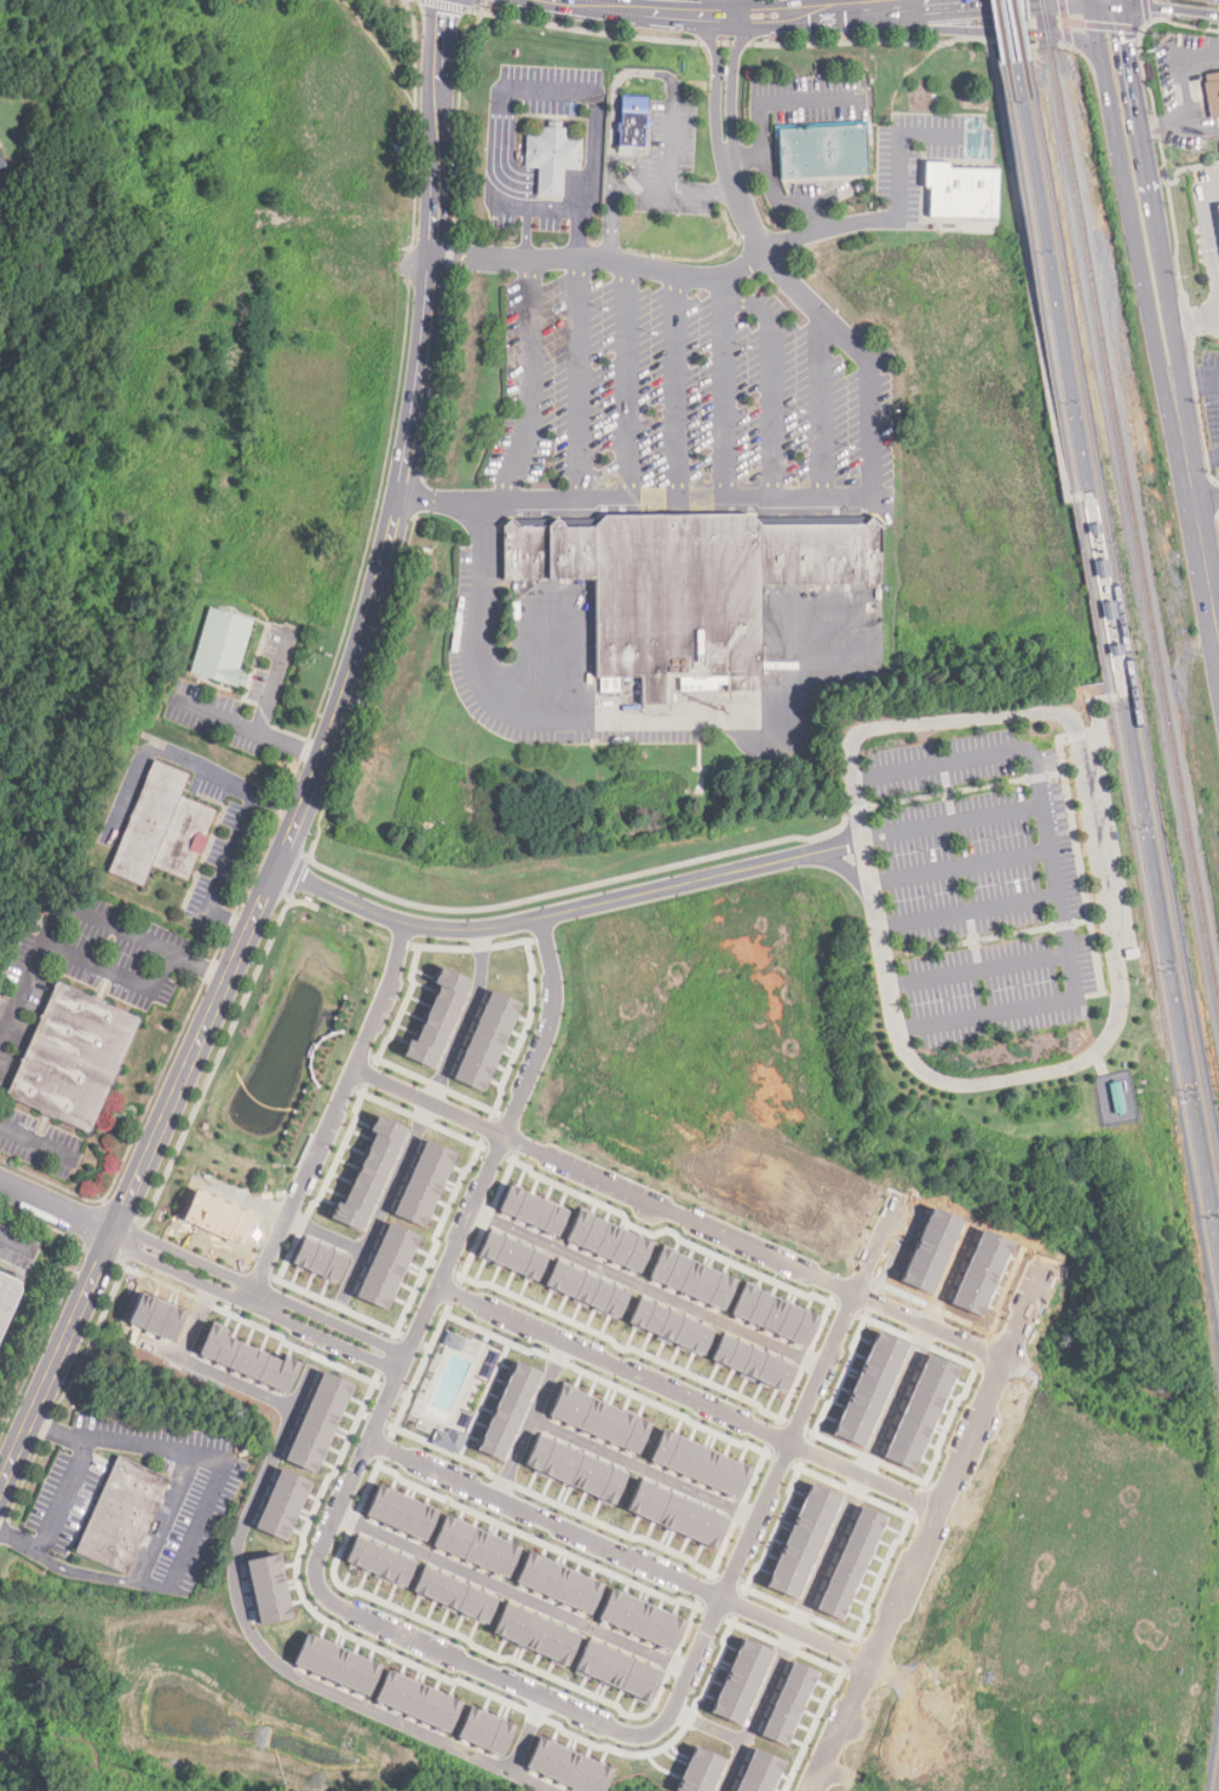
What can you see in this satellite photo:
road: (1194, 4)
road: (731, 7)
road: (870, 8)
road: (1064, 8)
road: (651, 11)
road: (1146, 11)
road: (1065, 23)
road: (1073, 23)
road: (1154, 23)
road: (1111, 25)
railway: (1014, 29)
road: (591, 30)
railway: (999, 31)
road: (1068, 38)
road: (726, 42)
road: (913, 42)
road: (731, 73)
road: (715, 78)
road: (542, 94)
building: (1213, 96)
road: (1185, 101)
building: (633, 124)
road: (673, 133)
road: (761, 136)
road: (902, 150)
building: (822, 151)
road: (747, 155)
building: (553, 159)
building: (1, 163)
road: (674, 191)
building: (962, 191)
road: (743, 207)
building: (1218, 208)
road: (611, 213)
road: (529, 234)
road: (1208, 239)
road: (453, 243)
road: (1028, 268)
road: (672, 272)
road: (1163, 322)
road: (1191, 325)
road: (867, 356)
road: (1195, 374)
road: (586, 379)
road: (534, 383)
road: (628, 383)
road: (772, 384)
road: (677, 386)
road: (723, 386)
road: (824, 408)
road: (409, 444)
road: (1203, 461)
road: (1206, 495)
road: (420, 496)
road: (636, 500)
railway: (1129, 500)
road: (1099, 566)
building: (688, 586)
railway: (1122, 614)
building: (219, 650)
railway: (1110, 681)
railway: (1115, 689)
road: (261, 716)
road: (1077, 735)
road: (163, 753)
road: (954, 791)
road: (953, 825)
building: (162, 831)
road: (838, 849)
road: (235, 851)
road: (866, 862)
road: (841, 865)
road: (1080, 865)
road: (960, 866)
road: (1056, 877)
parking lot: (985, 886)
road: (406, 901)
road: (80, 909)
road: (968, 909)
road: (1106, 914)
road: (541, 915)
road: (1000, 936)
building: (1132, 953)
road: (1140, 966)
road: (979, 969)
road: (115, 972)
building: (437, 1018)
building: (487, 1040)
building: (74, 1057)
road: (821, 1109)
road: (334, 1114)
road: (424, 1114)
road: (34, 1142)
building: (369, 1172)
road: (138, 1178)
building: (424, 1182)
road: (57, 1207)
building: (533, 1210)
road: (283, 1215)
road: (11, 1239)
building: (609, 1241)
road: (452, 1251)
building: (512, 1255)
building: (320, 1259)
building: (386, 1264)
building: (692, 1278)
road: (261, 1285)
building: (586, 1288)
road: (646, 1288)
building: (7, 1301)
road: (253, 1304)
building: (774, 1314)
road: (196, 1321)
building: (669, 1325)
road: (936, 1327)
building: (246, 1359)
building: (752, 1362)
road: (208, 1368)
road: (688, 1394)
building: (508, 1410)
building: (598, 1418)
road: (530, 1419)
building: (318, 1422)
road: (788, 1445)
building: (698, 1463)
road: (645, 1466)
building: (574, 1469)
road: (61, 1497)
road: (939, 1503)
building: (282, 1504)
road: (846, 1508)
road: (202, 1510)
building: (401, 1512)
building: (675, 1514)
building: (122, 1517)
building: (801, 1540)
road: (18, 1543)
building: (476, 1546)
building: (379, 1561)
road: (84, 1574)
building: (557, 1582)
building: (268, 1588)
road: (513, 1591)
building: (453, 1595)
road: (731, 1598)
building: (639, 1619)
building: (534, 1634)
road: (270, 1653)
building: (335, 1664)
road: (479, 1666)
building: (616, 1670)
building: (738, 1681)
building: (416, 1700)
building: (786, 1703)
building: (484, 1730)
road: (527, 1733)
building: (567, 1767)
building: (697, 1770)
building: (757, 1772)
railway: (1217, 1776)

